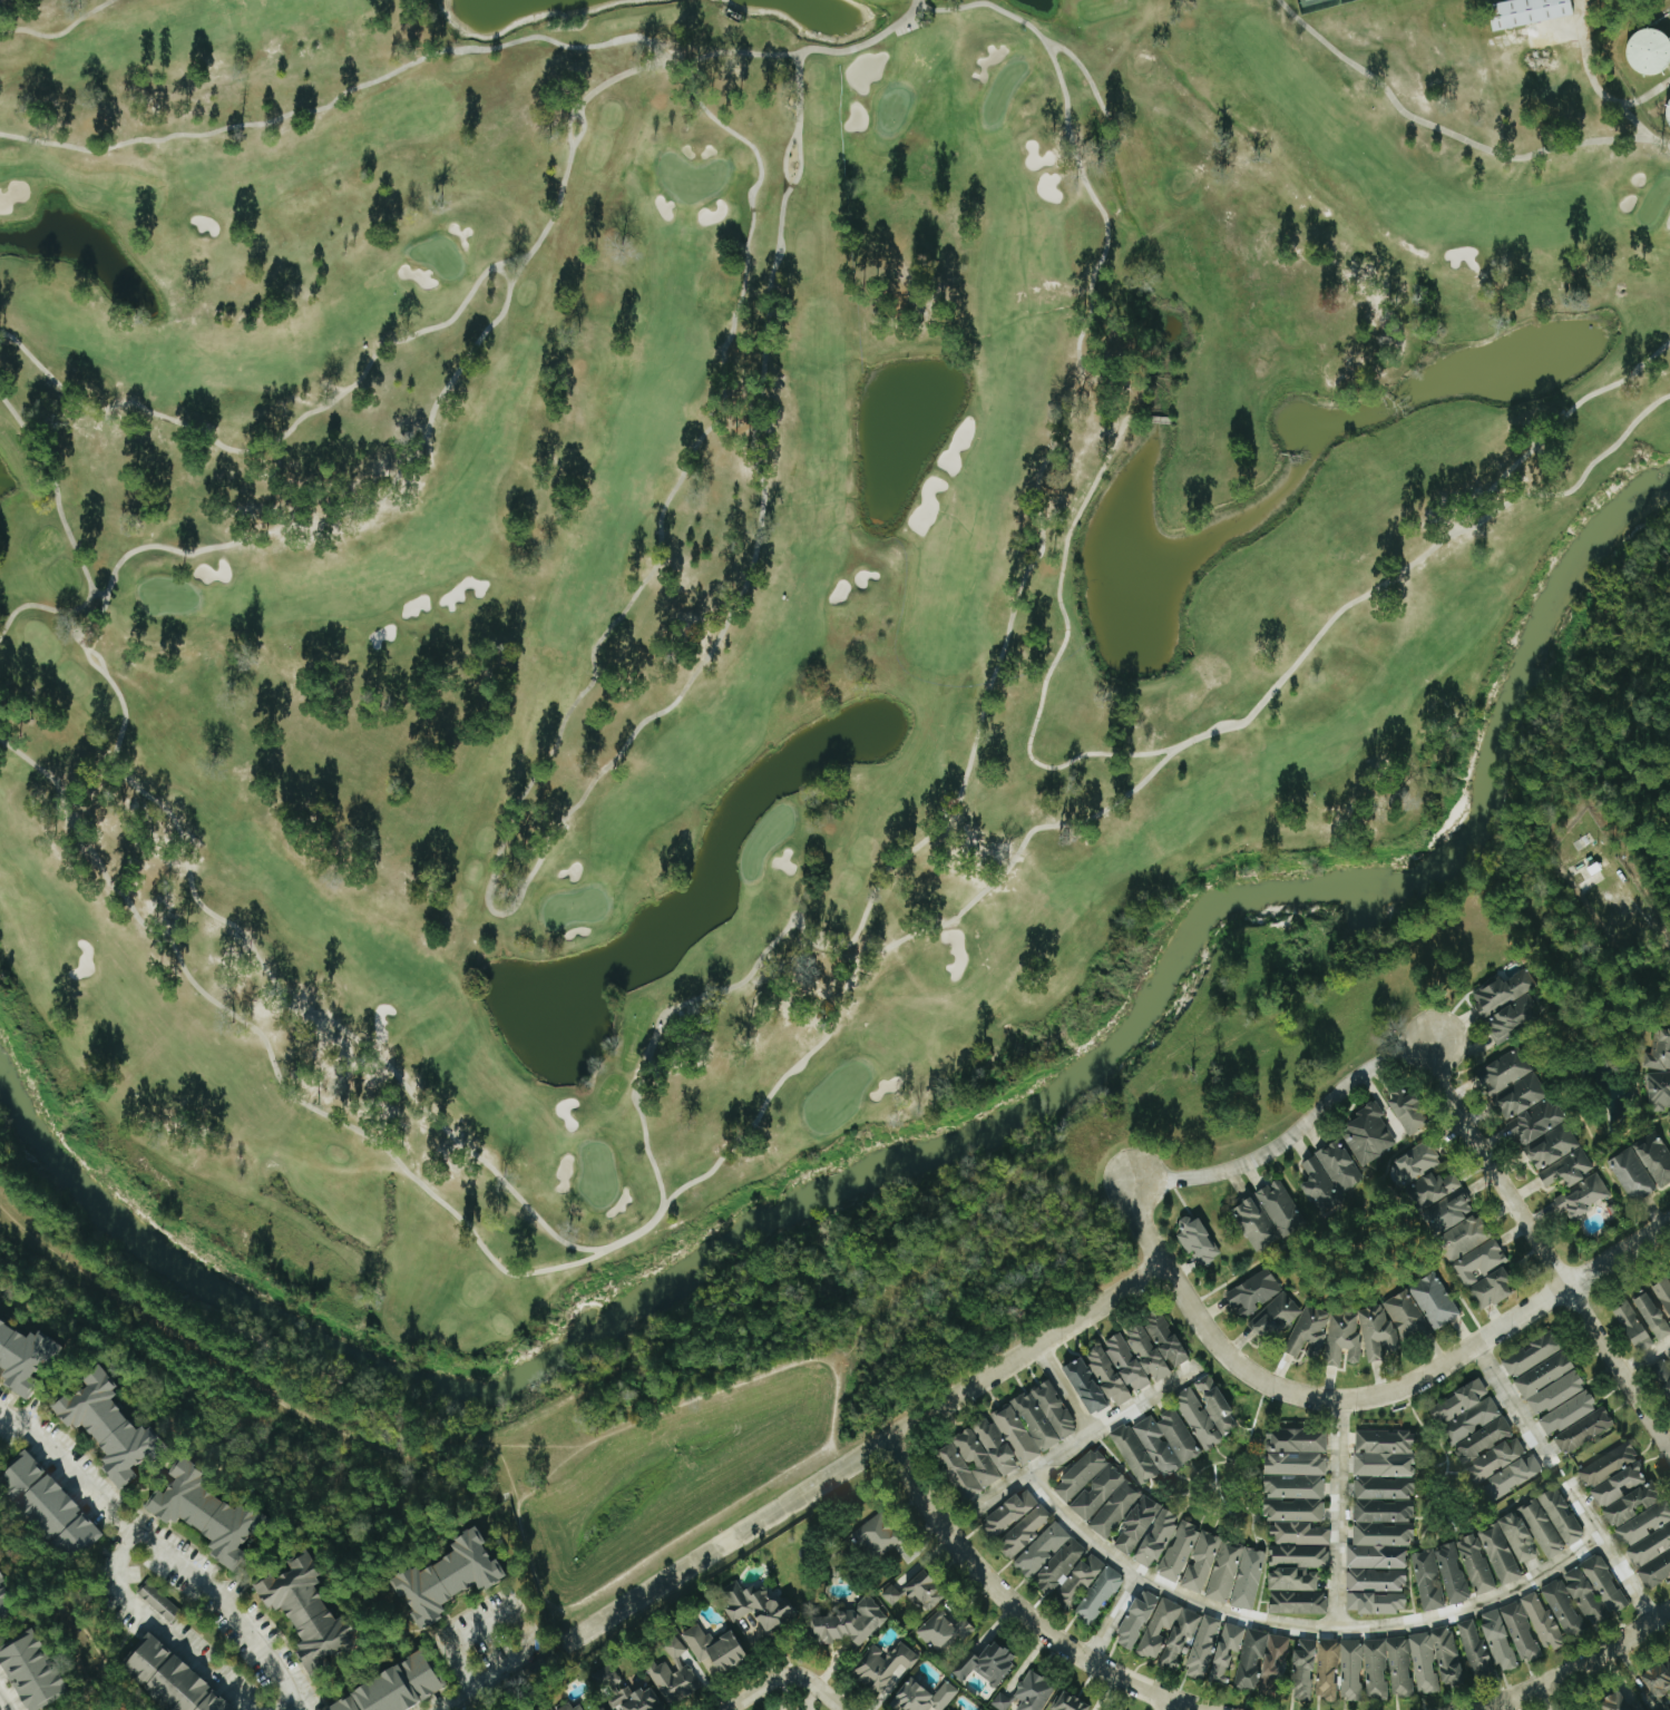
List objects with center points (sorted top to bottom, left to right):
building: (1531, 12)
building: (1651, 53)
road: (1599, 82)
road: (1637, 120)
building: (1506, 990)
building: (1515, 1017)
building: (1660, 1049)
building: (1515, 1083)
building: (1660, 1089)
building: (1412, 1112)
building: (1539, 1121)
road: (1295, 1133)
building: (1371, 1134)
building: (1555, 1147)
river: (904, 1157)
building: (1657, 1157)
building: (1420, 1161)
building: (1569, 1169)
building: (1331, 1174)
building: (1634, 1174)
building: (1438, 1188)
building: (1585, 1196)
building: (1282, 1206)
building: (1256, 1224)
building: (1464, 1237)
building: (1197, 1240)
park: (1351, 1243)
road: (948, 1248)
road: (1542, 1249)
building: (1491, 1289)
building: (1252, 1292)
building: (1663, 1293)
building: (1433, 1301)
building: (1273, 1316)
building: (1405, 1316)
building: (1651, 1316)
building: (1630, 1325)
building: (1342, 1336)
building: (1155, 1346)
building: (1669, 1354)
building: (1531, 1355)
road: (1645, 1356)
building: (25, 1358)
building: (1116, 1369)
building: (1662, 1379)
building: (1549, 1384)
building: (1085, 1386)
road: (1064, 1390)
road: (1365, 1398)
building: (1053, 1408)
building: (1205, 1413)
building: (1566, 1413)
building: (1034, 1421)
building: (110, 1427)
building: (1582, 1430)
building: (1014, 1434)
road: (423, 1435)
road: (1084, 1437)
building: (1483, 1440)
building: (1165, 1442)
building: (995, 1446)
road: (863, 1453)
building: (1132, 1454)
building: (967, 1464)
building: (1606, 1464)
road: (1564, 1484)
building: (1293, 1485)
building: (1618, 1485)
building: (1097, 1493)
building: (1630, 1504)
building: (48, 1505)
building: (1380, 1511)
building: (1009, 1512)
building: (208, 1514)
road: (1337, 1516)
building: (1560, 1516)
building: (1024, 1530)
building: (1529, 1532)
building: (875, 1536)
building: (1648, 1542)
road: (159, 1553)
building: (1498, 1554)
building: (1190, 1555)
building: (1048, 1557)
building: (1474, 1565)
building: (1295, 1566)
road: (594, 1569)
building: (1451, 1573)
building: (449, 1577)
building: (1078, 1579)
building: (1426, 1580)
building: (1602, 1583)
building: (925, 1591)
building: (1098, 1594)
building: (889, 1595)
building: (1583, 1596)
building: (158, 1602)
building: (1297, 1602)
building: (4, 1603)
building: (1375, 1603)
building: (755, 1606)
road: (1014, 1606)
building: (1563, 1610)
building: (309, 1613)
road: (515, 1613)
road: (1110, 1618)
building: (1135, 1620)
building: (848, 1623)
building: (1542, 1623)
road: (1298, 1628)
building: (941, 1631)
road: (160, 1632)
building: (1518, 1632)
building: (1181, 1633)
building: (1497, 1641)
building: (1227, 1643)
building: (1202, 1647)
building: (713, 1650)
building: (1474, 1650)
building: (1249, 1659)
building: (1434, 1660)
building: (985, 1663)
building: (1271, 1663)
building: (882, 1665)
road: (1582, 1667)
building: (1386, 1668)
building: (1301, 1669)
building: (1326, 1670)
building: (1350, 1670)
building: (31, 1671)
road: (784, 1673)
building: (672, 1674)
building: (169, 1679)
building: (1658, 1680)
building: (394, 1689)
building: (623, 1692)
building: (1032, 1692)
building: (922, 1697)
road: (8, 1698)
building: (1000, 1701)
road: (457, 1702)
building: (1067, 1702)
building: (1619, 1703)
road: (1169, 1706)
building: (568, 1708)
building: (600, 1709)
building: (1593, 1709)

